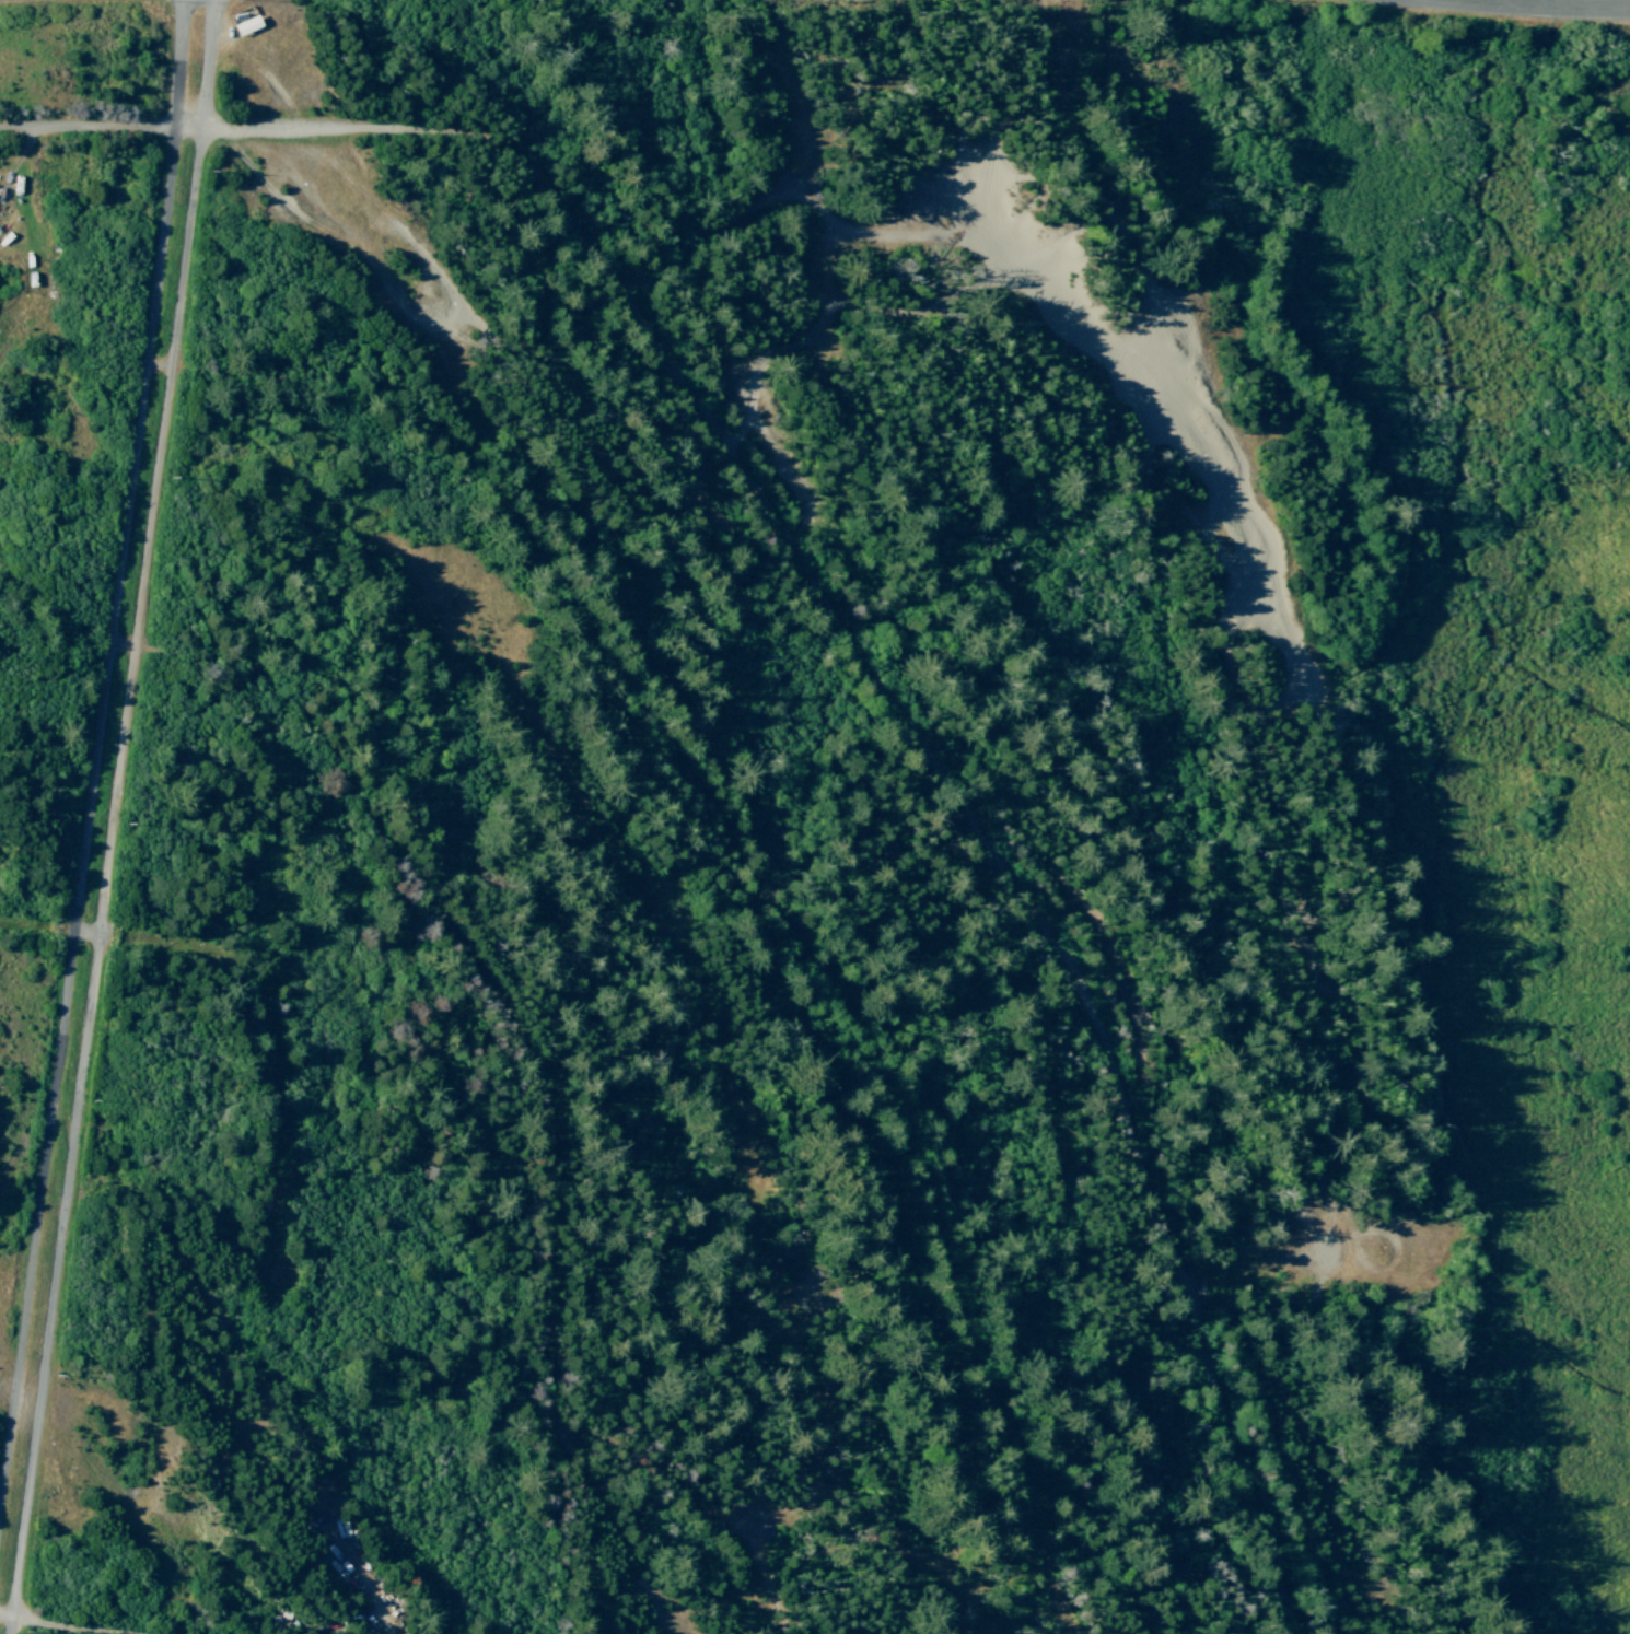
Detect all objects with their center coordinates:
road: (1540, 12)
road: (89, 127)
road: (1144, 266)
park: (941, 681)
road: (901, 704)
road: (100, 771)
road: (120, 817)
road: (748, 867)
road: (39, 926)
road: (276, 1034)
road: (531, 1035)
road: (1259, 1273)
road: (665, 1466)
road: (65, 1623)

